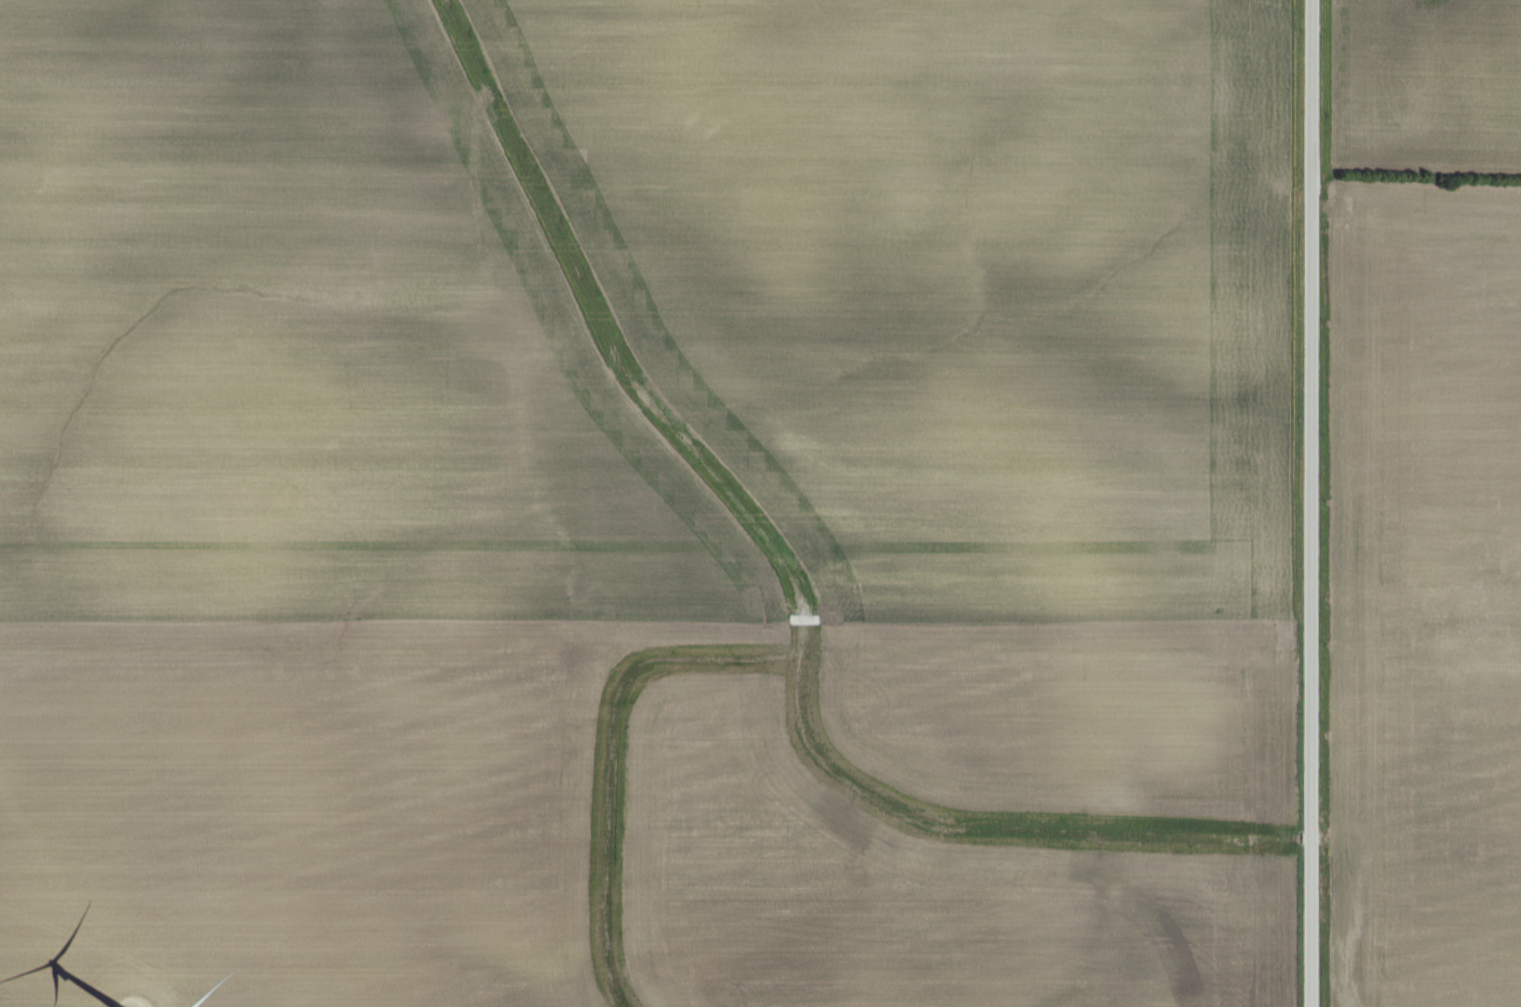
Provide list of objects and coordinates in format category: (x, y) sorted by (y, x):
road: (1308, 503)

